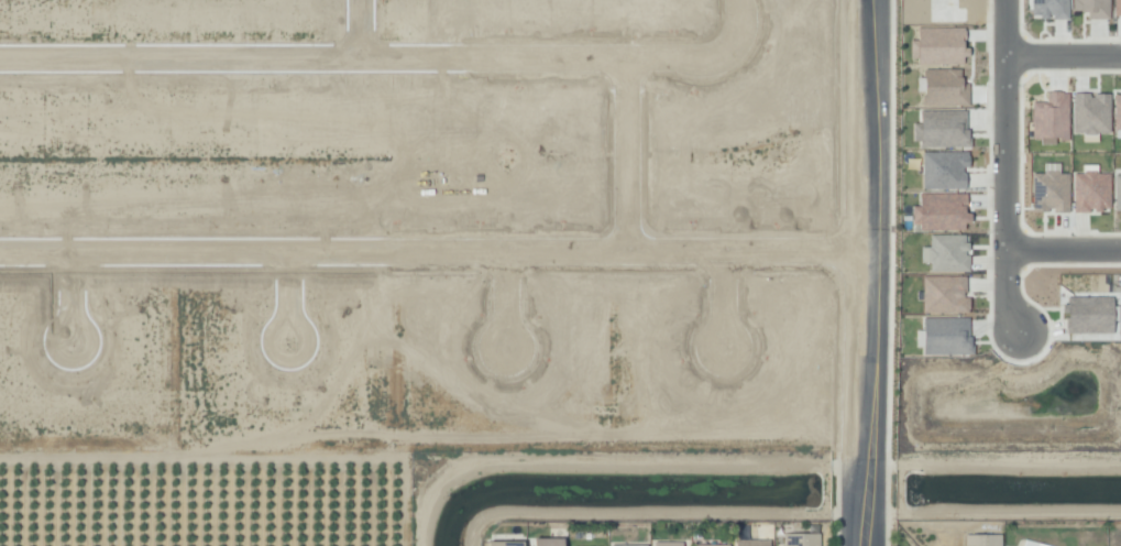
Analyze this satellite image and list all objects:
building: (1117, 7)
building: (1092, 8)
building: (1048, 9)
road: (363, 25)
road: (736, 30)
building: (937, 45)
road: (367, 52)
road: (1065, 55)
building: (942, 87)
building: (1089, 113)
building: (1117, 113)
building: (1049, 117)
building: (939, 129)
road: (630, 155)
road: (1010, 166)
building: (943, 170)
building: (1049, 189)
building: (1090, 189)
building: (1117, 192)
building: (939, 211)
road: (869, 219)
road: (435, 253)
building: (945, 253)
road: (1065, 255)
building: (943, 294)
road: (284, 301)
road: (69, 303)
road: (508, 303)
road: (724, 307)
building: (1087, 315)
building: (944, 336)
road: (868, 492)
building: (803, 540)
building: (982, 540)
building: (554, 543)
building: (750, 543)
building: (513, 544)
building: (668, 544)
building: (1032, 544)
building: (617, 545)
building: (712, 545)

